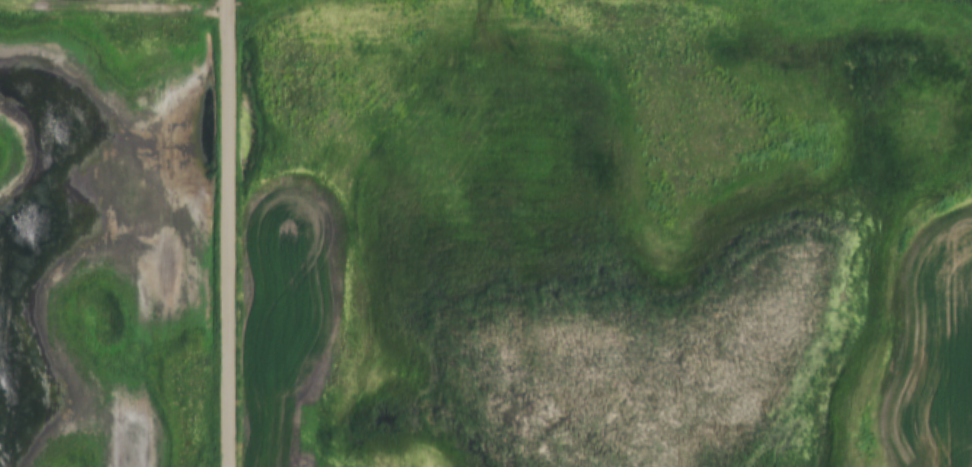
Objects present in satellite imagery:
road: (113, 3)
road: (227, 233)

